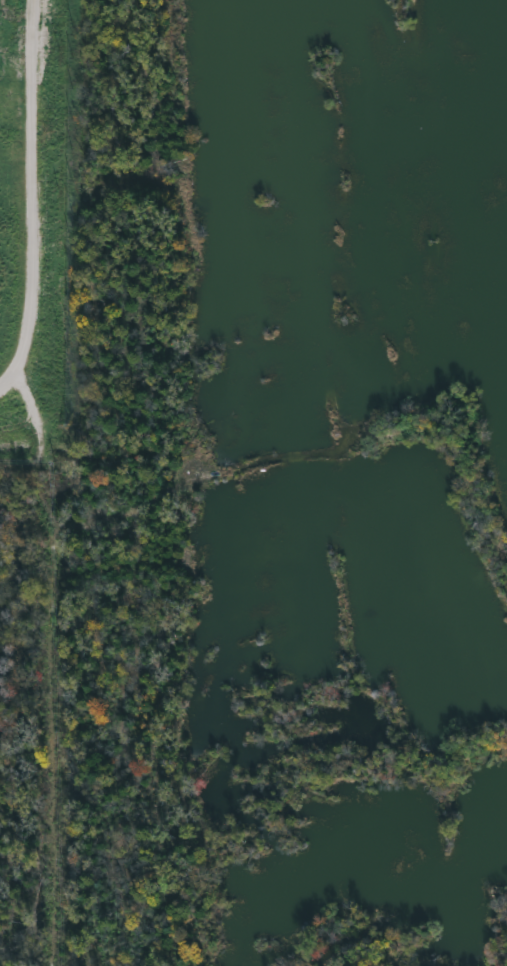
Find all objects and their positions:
landfill: (38, 233)

